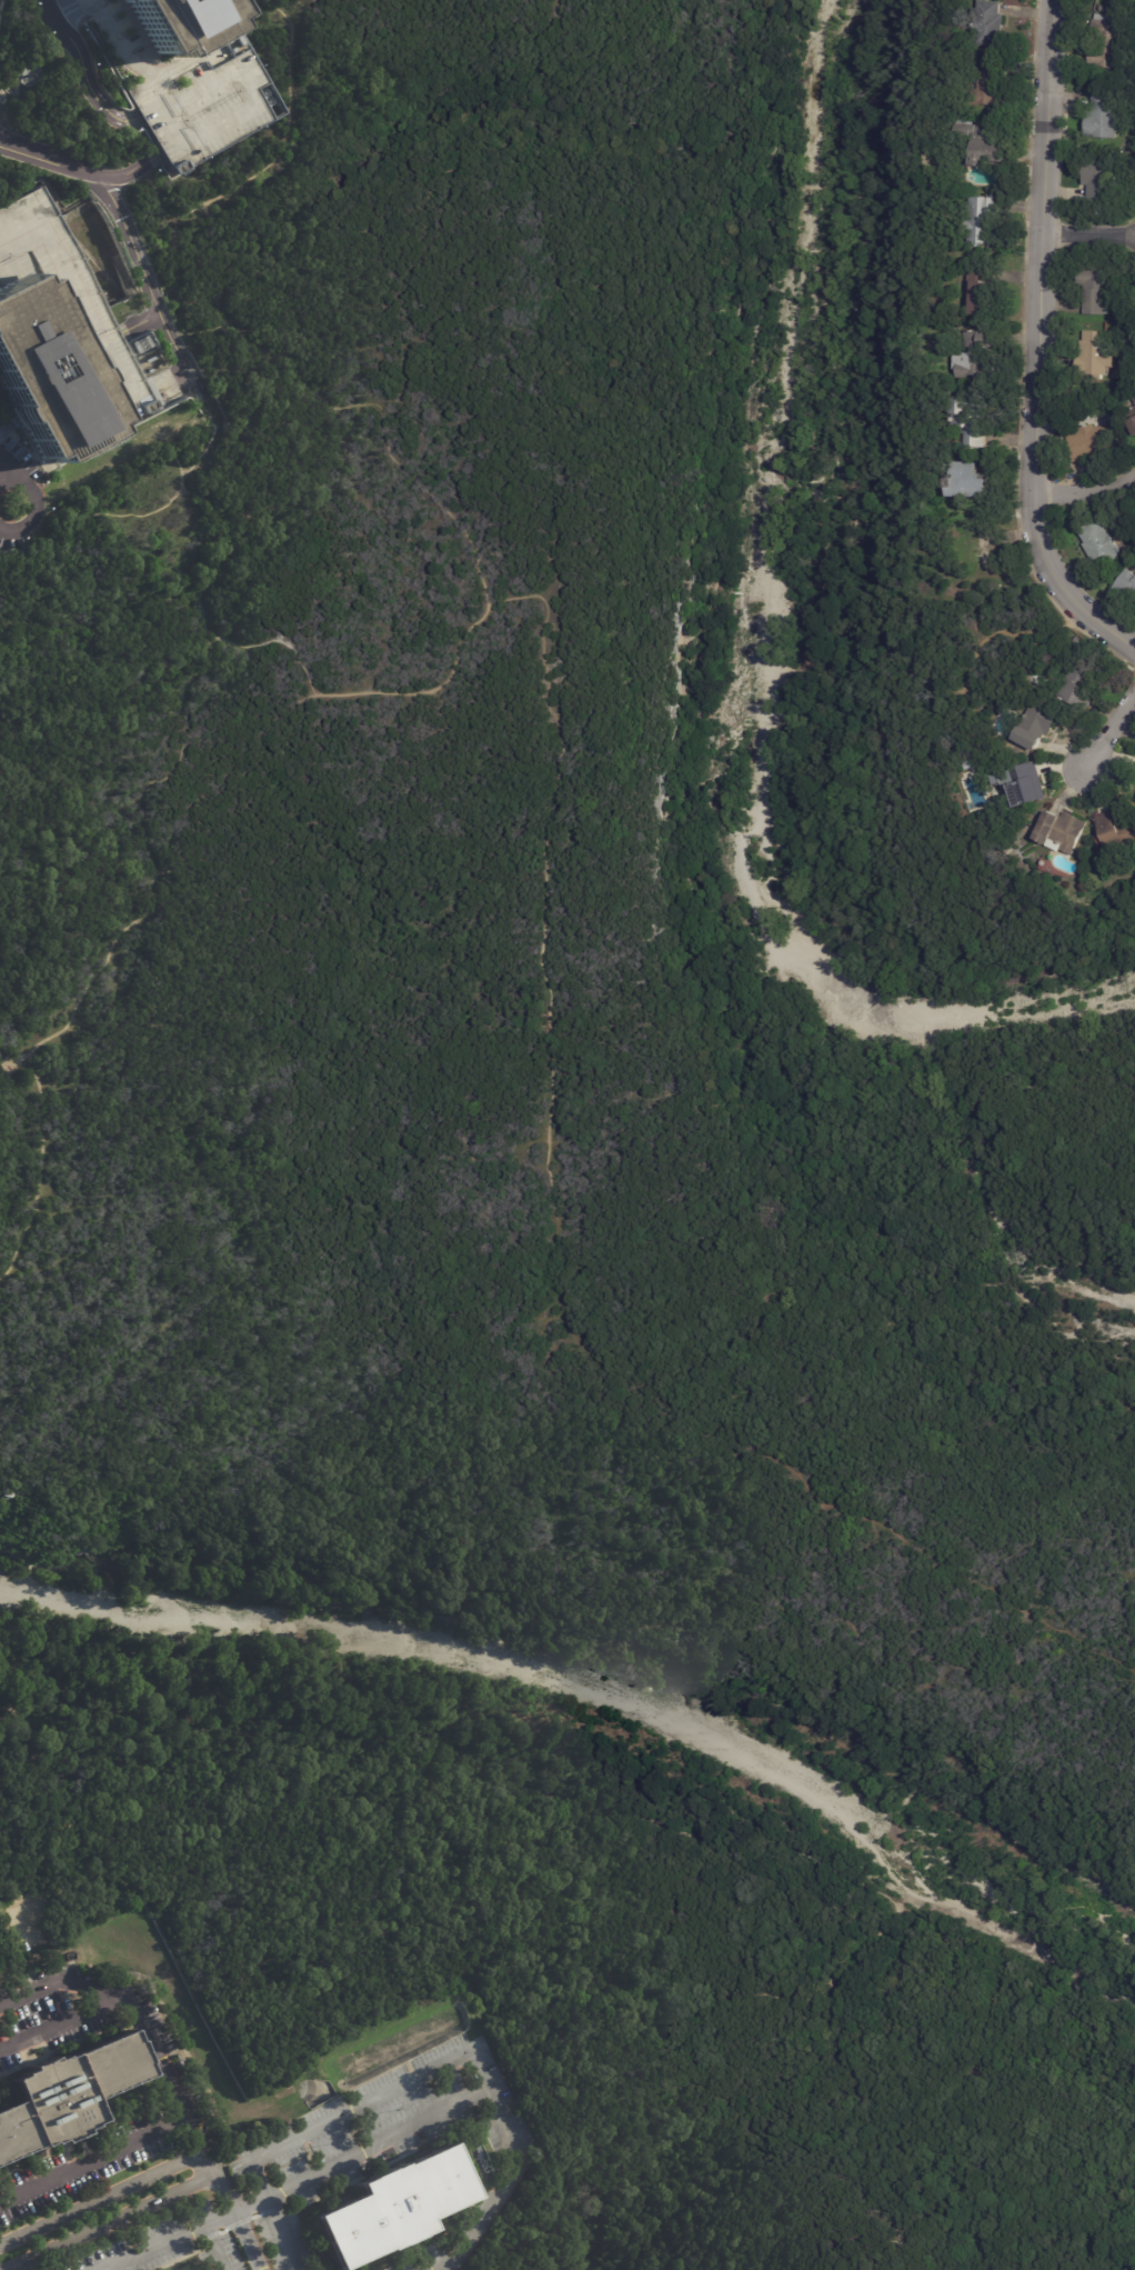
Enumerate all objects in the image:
building: (1117, 1)
building: (1104, 10)
building: (161, 19)
building: (990, 26)
building: (1107, 44)
road: (81, 71)
building: (992, 82)
building: (182, 86)
parking lot: (182, 86)
park: (58, 99)
building: (943, 116)
building: (1102, 117)
road: (13, 143)
building: (990, 144)
road: (275, 152)
road: (79, 173)
building: (1101, 182)
building: (983, 221)
road: (1088, 238)
road: (151, 288)
building: (1097, 290)
building: (982, 291)
road: (142, 321)
road: (202, 331)
building: (59, 342)
building: (141, 344)
road: (1036, 344)
building: (978, 356)
building: (1097, 356)
road: (867, 369)
road: (175, 378)
building: (1133, 400)
road: (383, 411)
building: (968, 422)
building: (1133, 424)
building: (1089, 442)
road: (6, 460)
building: (968, 482)
road: (1084, 494)
road: (37, 499)
road: (211, 509)
road: (115, 512)
building: (1099, 546)
building: (991, 557)
building: (1127, 584)
road: (510, 598)
building: (1078, 688)
road: (894, 701)
road: (1108, 726)
building: (1038, 727)
road: (670, 739)
road: (936, 743)
building: (975, 766)
building: (1023, 784)
road: (147, 799)
building: (1062, 831)
building: (1117, 832)
road: (672, 862)
road: (851, 899)
park: (573, 1164)
road: (1108, 1238)
road: (554, 1293)
road: (1077, 1313)
road: (33, 1660)
road: (13, 1770)
road: (587, 1806)
road: (19, 1911)
parking lot: (21, 1920)
road: (62, 2023)
road: (456, 2056)
road: (165, 2072)
building: (60, 2090)
road: (93, 2158)
road: (300, 2180)
road: (102, 2197)
building: (388, 2207)
road: (273, 2214)
road: (113, 2220)
road: (213, 2248)
road: (441, 2268)
building: (165, 2269)

